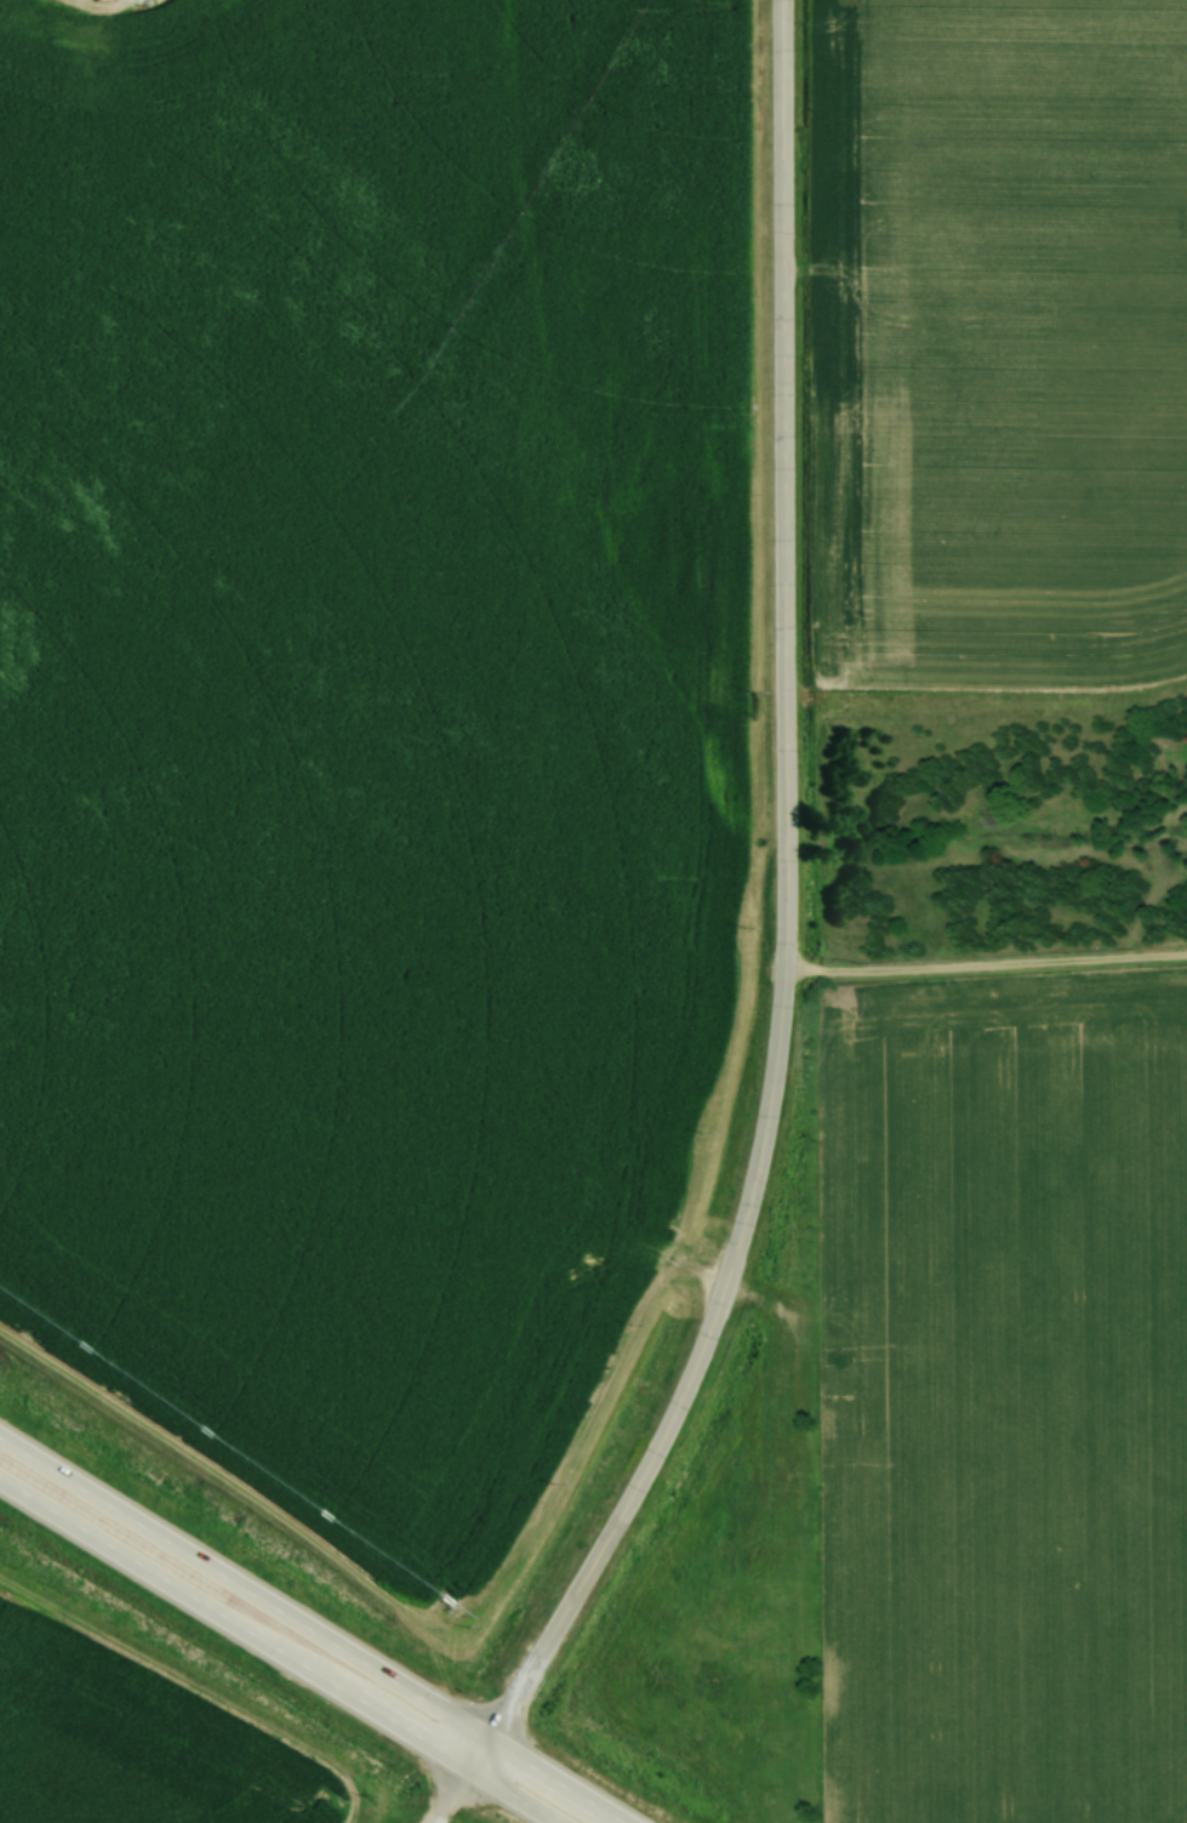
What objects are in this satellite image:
building: (251, 303)
crop: (998, 352)
building: (179, 364)
building: (86, 529)
road: (791, 921)
road: (312, 1631)
road: (278, 1652)
crop: (130, 1742)
road: (446, 1795)

